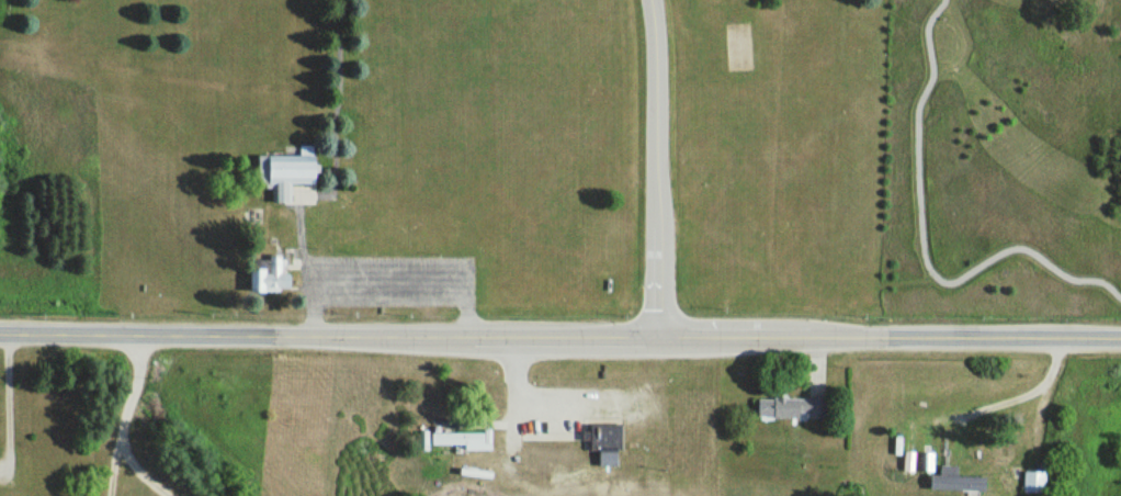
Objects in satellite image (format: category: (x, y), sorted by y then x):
road: (946, 3)
road: (948, 7)
road: (658, 170)
building: (279, 171)
road: (313, 200)
road: (301, 226)
road: (935, 272)
building: (269, 277)
parking lot: (388, 277)
road: (559, 339)
road: (133, 386)
road: (1016, 395)
parking lot: (587, 401)
building: (791, 408)
building: (601, 433)
building: (455, 439)
road: (113, 466)
road: (139, 471)
building: (954, 482)
building: (1032, 482)

